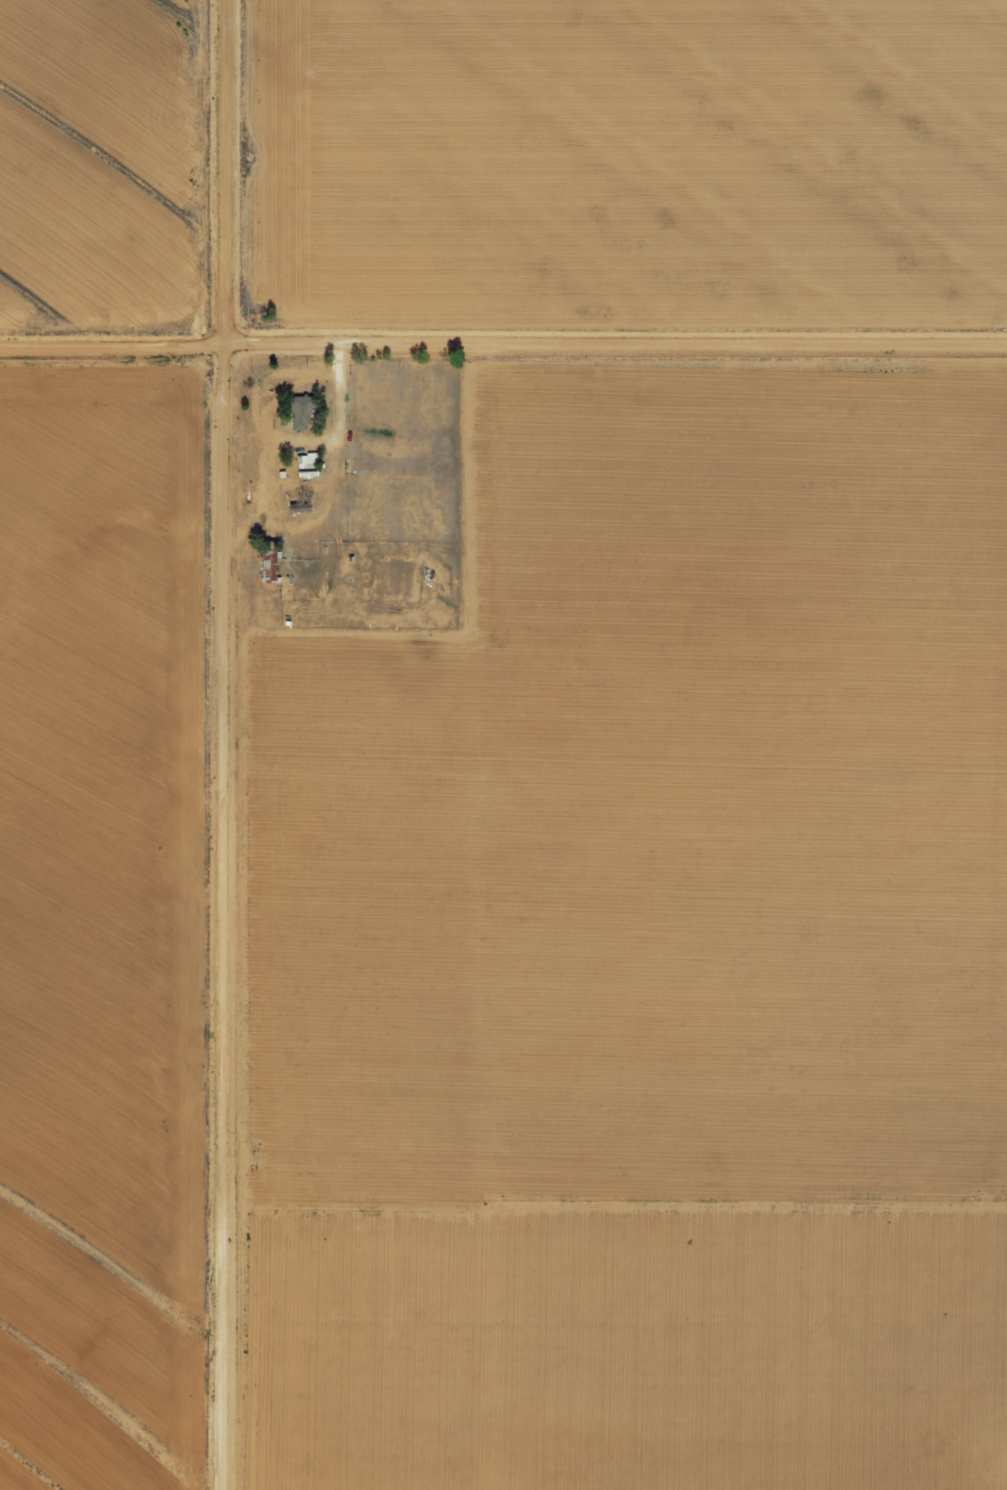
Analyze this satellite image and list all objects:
road: (503, 345)
road: (228, 744)

